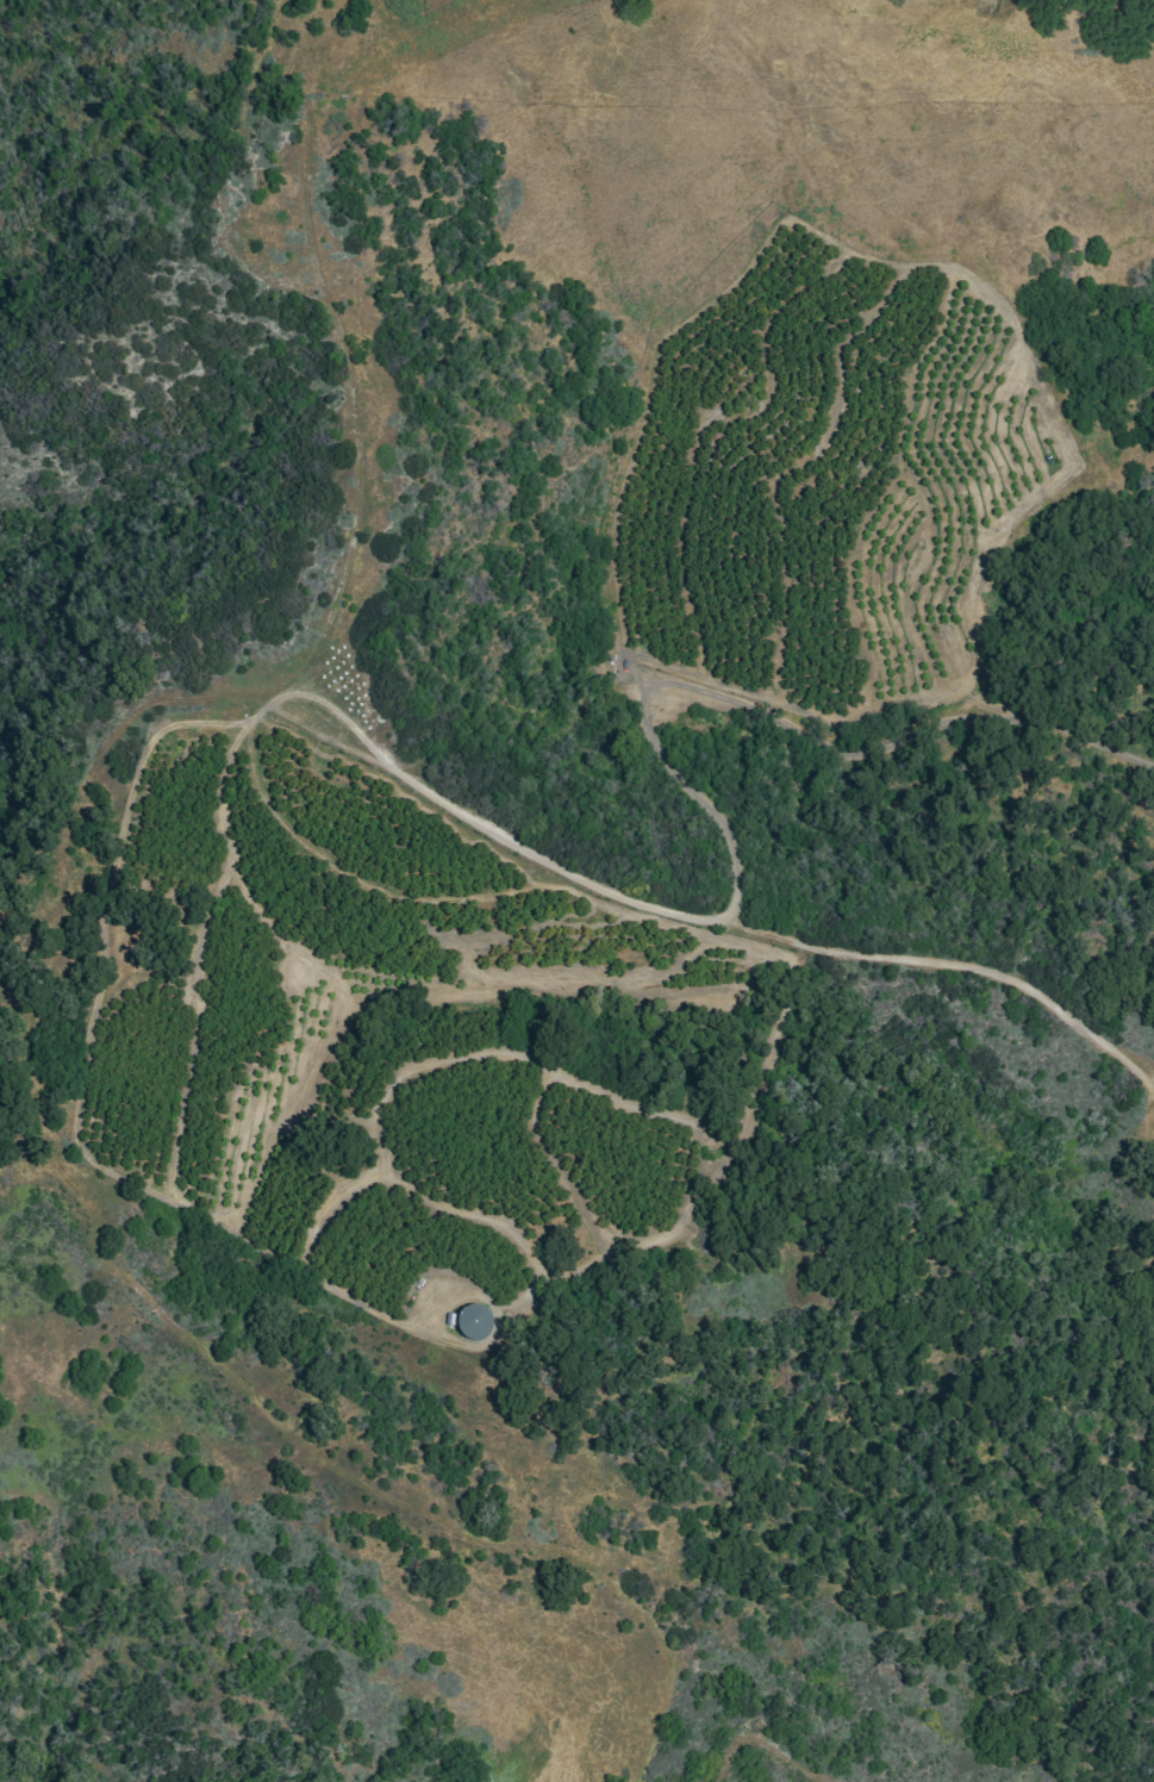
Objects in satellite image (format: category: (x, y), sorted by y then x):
road: (344, 345)
road: (195, 390)
road: (136, 879)
road: (80, 906)

